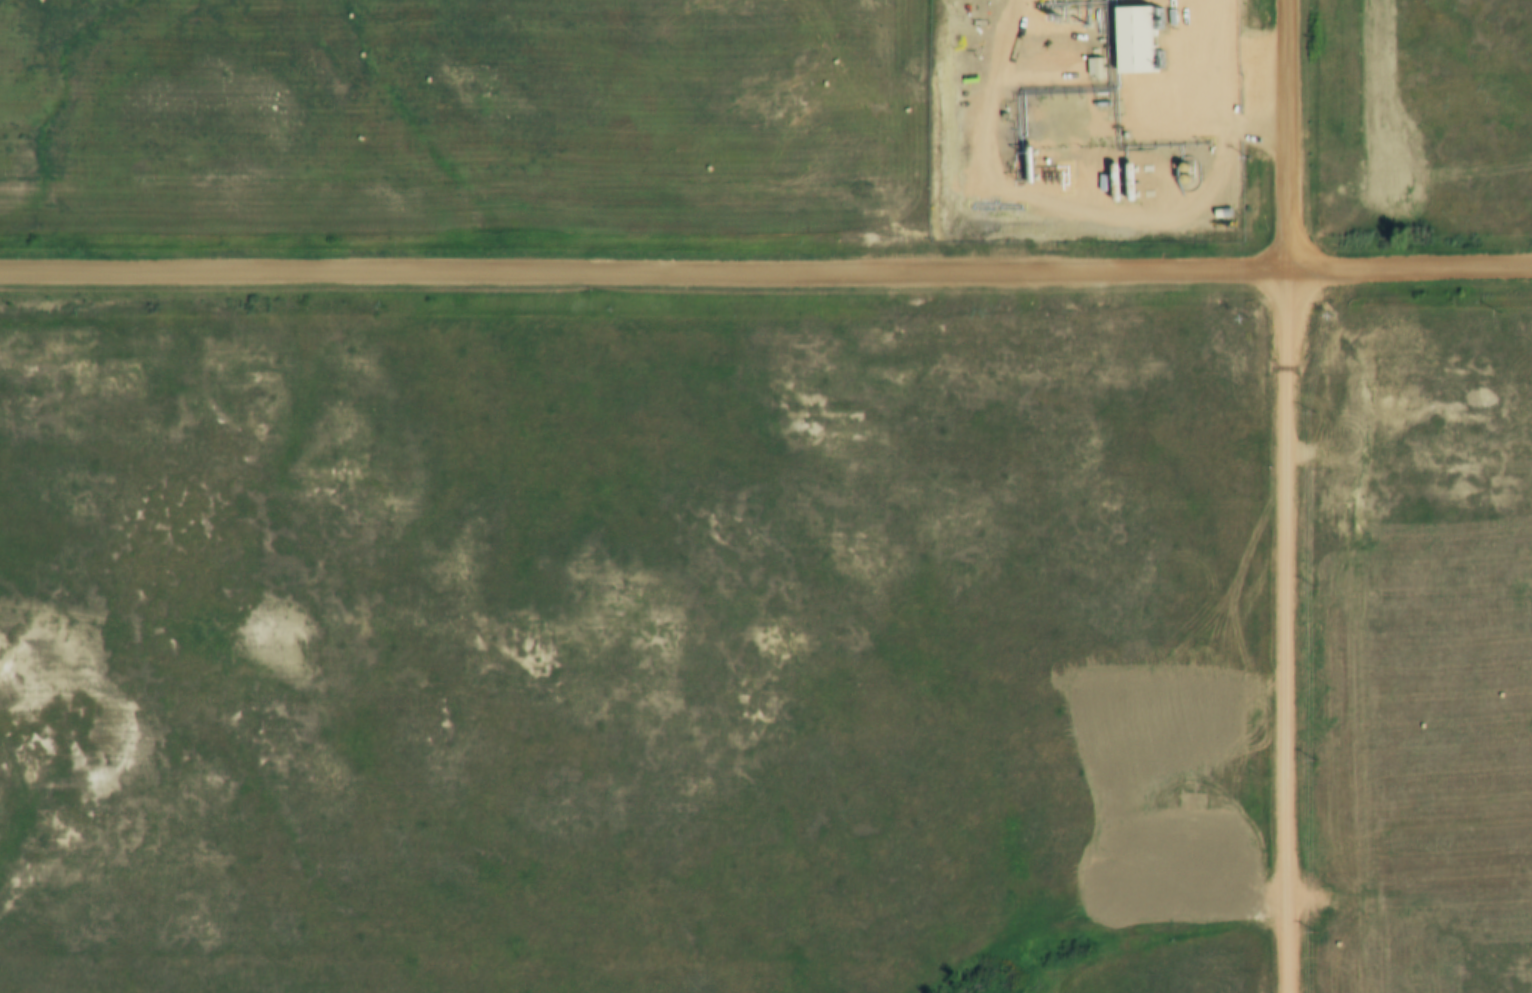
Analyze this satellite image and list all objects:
road: (1284, 134)
road: (1409, 269)
road: (643, 273)
road: (1265, 630)

